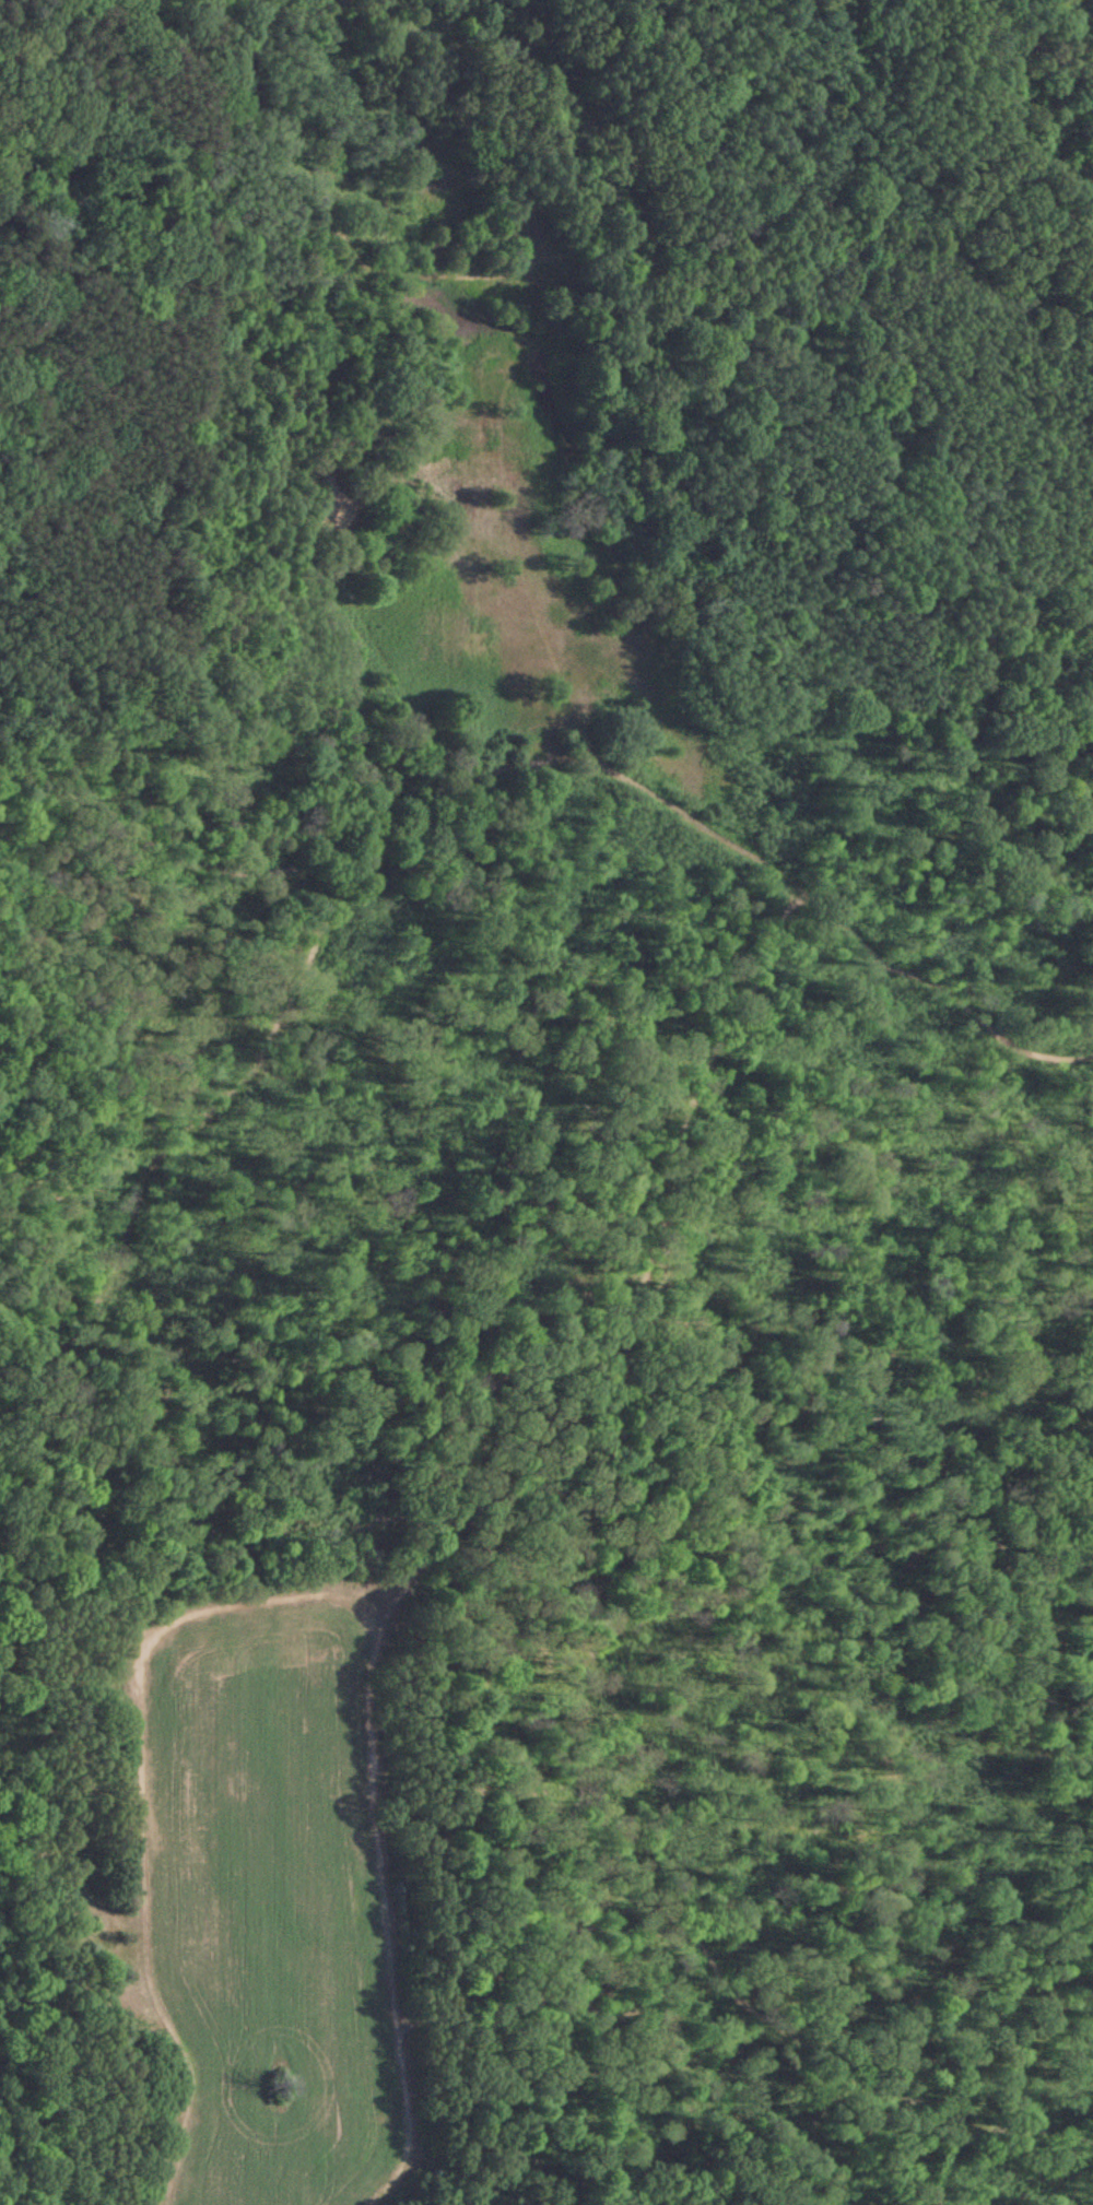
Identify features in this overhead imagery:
road: (1079, 2035)
road: (900, 2178)

